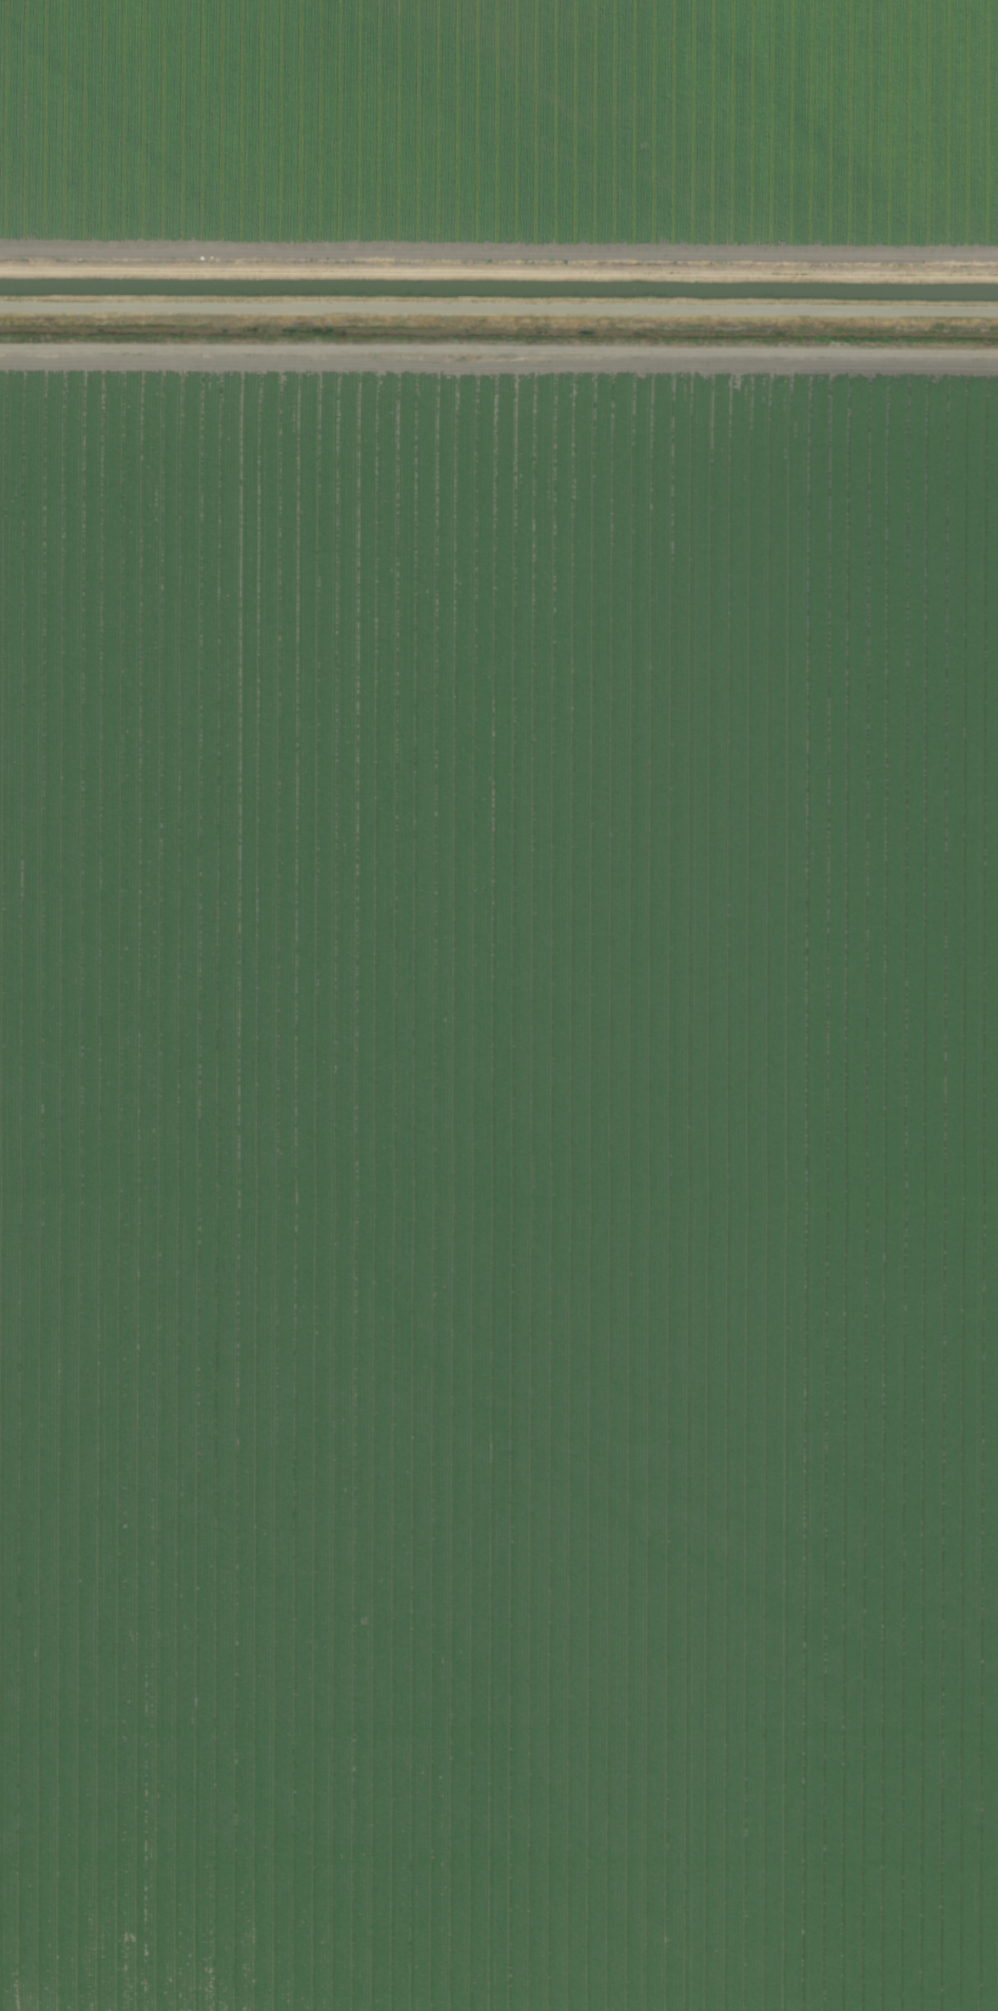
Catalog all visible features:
road: (499, 328)

